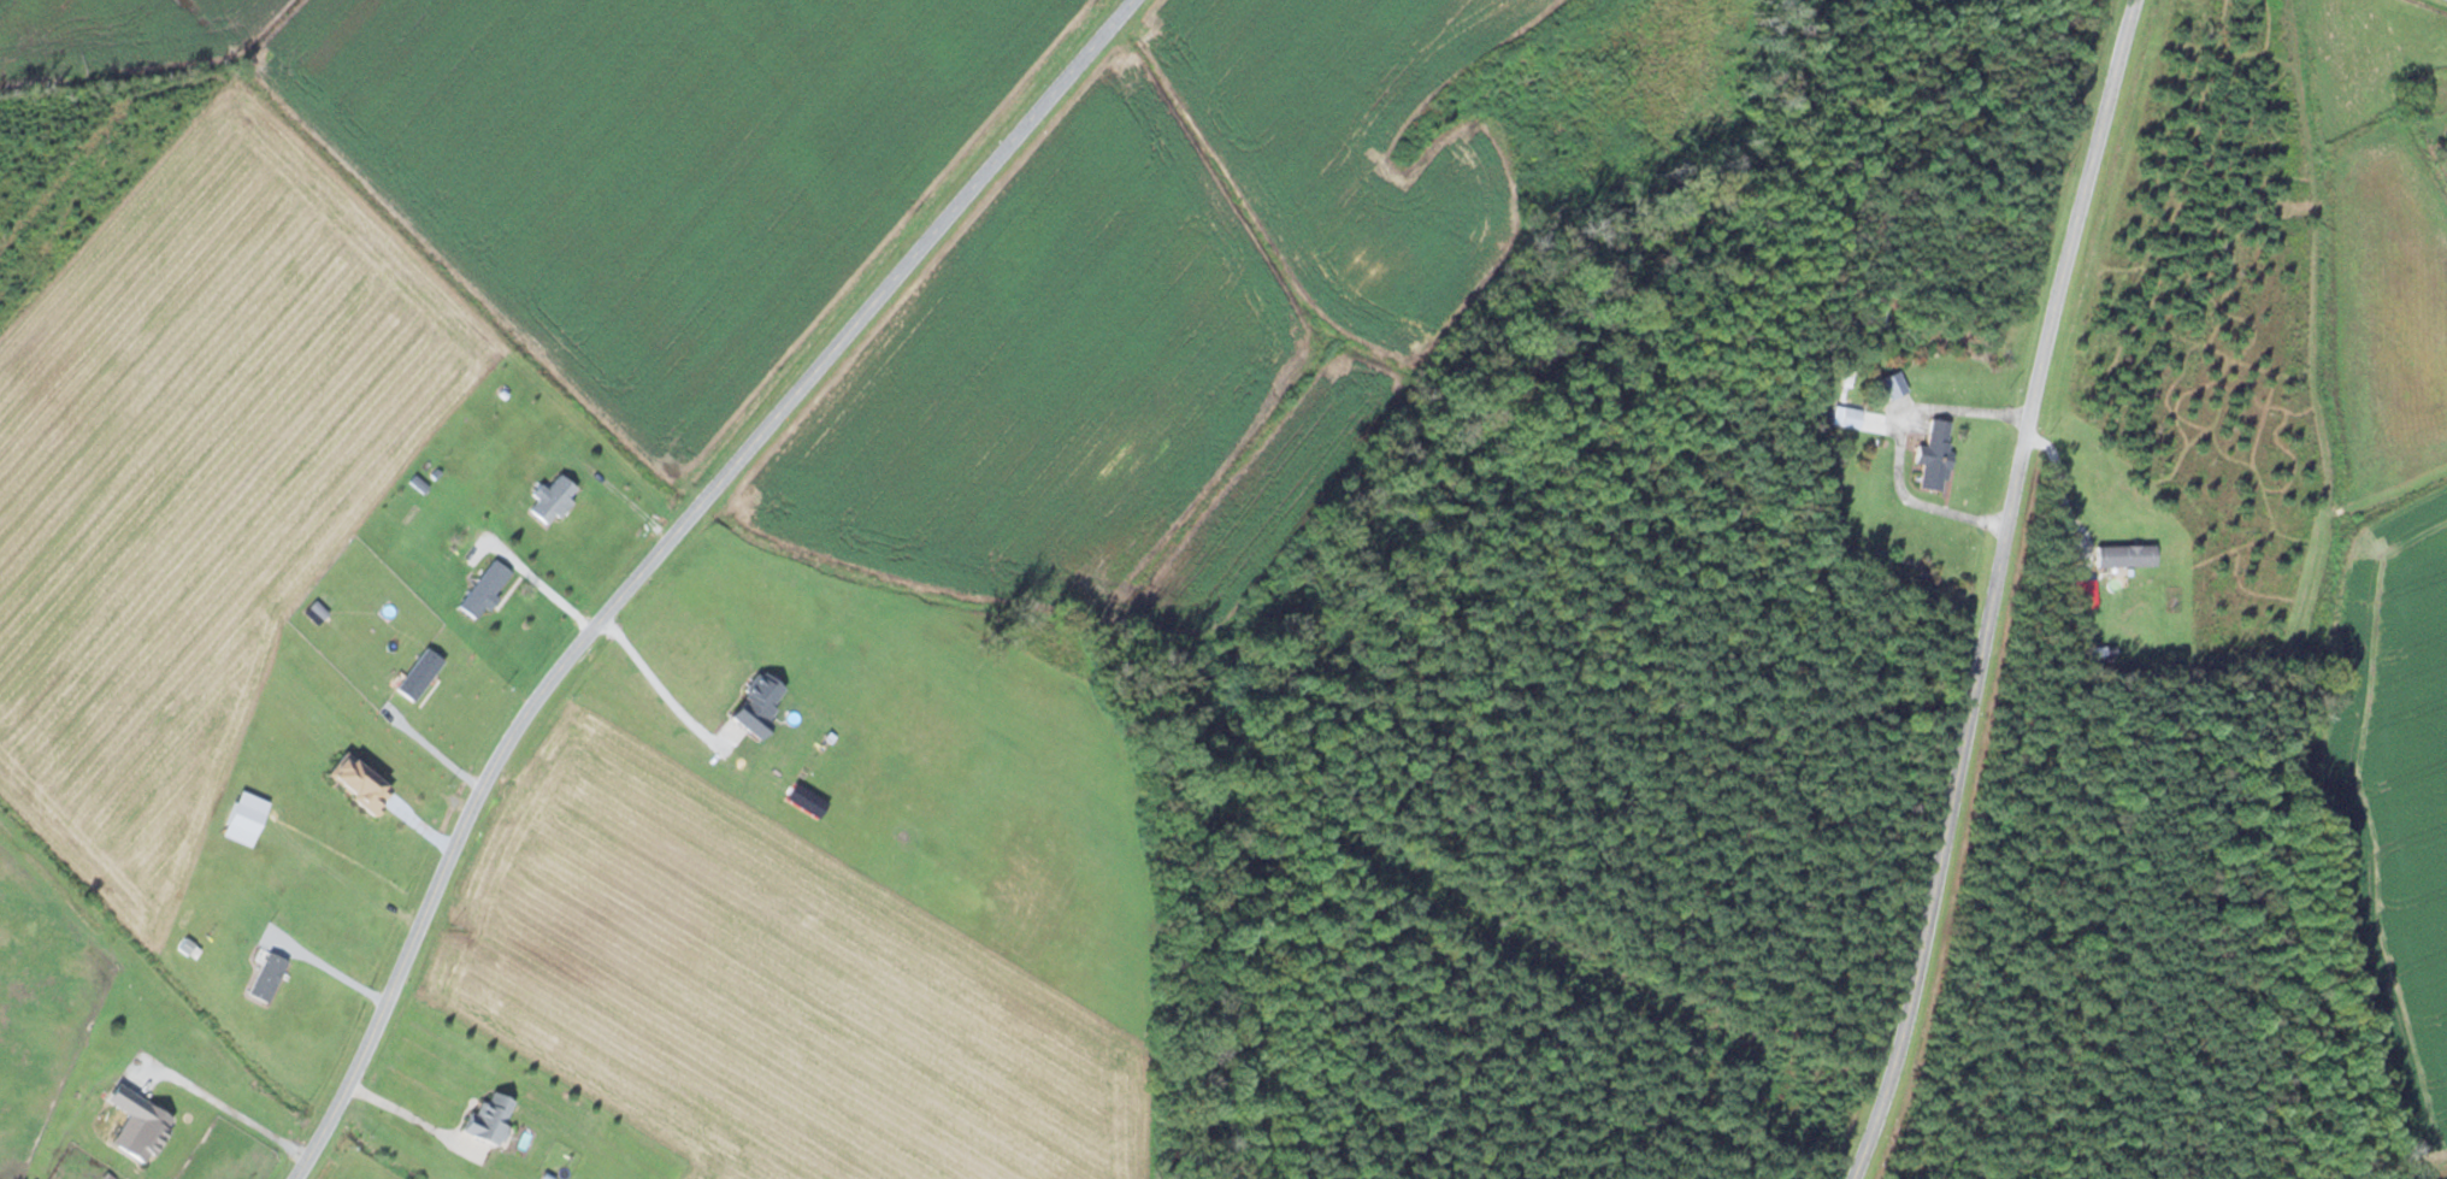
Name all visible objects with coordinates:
building: (1892, 385)
building: (1934, 456)
building: (550, 500)
road: (664, 552)
building: (2123, 561)
road: (1991, 589)
building: (482, 590)
building: (2095, 652)
building: (417, 676)
building: (484, 1119)
building: (117, 1177)

